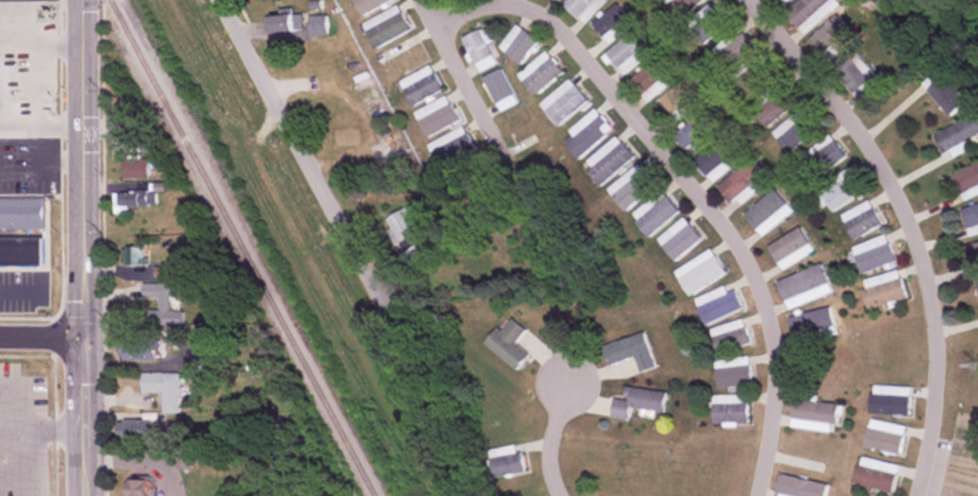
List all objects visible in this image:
building: (781, 1)
road: (21, 3)
building: (367, 5)
road: (11, 6)
building: (682, 6)
building: (582, 8)
building: (810, 11)
building: (284, 23)
building: (611, 23)
building: (709, 23)
building: (384, 26)
building: (831, 38)
road: (60, 41)
building: (517, 44)
building: (732, 48)
building: (478, 50)
building: (628, 52)
road: (38, 63)
road: (456, 69)
building: (752, 73)
building: (539, 74)
building: (852, 74)
building: (651, 79)
building: (419, 85)
building: (498, 90)
building: (945, 94)
building: (680, 99)
building: (775, 102)
building: (563, 103)
building: (435, 117)
road: (41, 123)
building: (797, 128)
building: (695, 132)
building: (586, 133)
building: (957, 133)
road: (295, 139)
road: (39, 146)
building: (450, 149)
building: (821, 157)
building: (718, 158)
building: (608, 163)
road: (42, 167)
building: (134, 168)
building: (967, 180)
building: (741, 182)
road: (688, 184)
building: (631, 187)
building: (842, 189)
building: (135, 200)
building: (767, 212)
building: (654, 213)
building: (21, 214)
building: (971, 219)
building: (861, 220)
road: (910, 224)
building: (408, 238)
building: (678, 239)
road: (82, 247)
railway: (242, 248)
building: (790, 248)
building: (20, 251)
building: (873, 254)
building: (974, 254)
building: (134, 256)
building: (161, 272)
building: (699, 272)
building: (976, 285)
building: (803, 287)
building: (883, 290)
building: (161, 297)
building: (717, 305)
building: (810, 322)
building: (729, 336)
road: (42, 337)
building: (506, 345)
building: (139, 350)
building: (629, 352)
building: (200, 357)
building: (732, 372)
building: (164, 390)
building: (889, 401)
building: (637, 403)
building: (729, 409)
building: (814, 415)
road: (23, 426)
road: (11, 430)
building: (136, 430)
road: (550, 436)
building: (884, 437)
building: (503, 461)
road: (23, 463)
building: (876, 475)
road: (11, 478)
building: (140, 487)
building: (799, 487)

